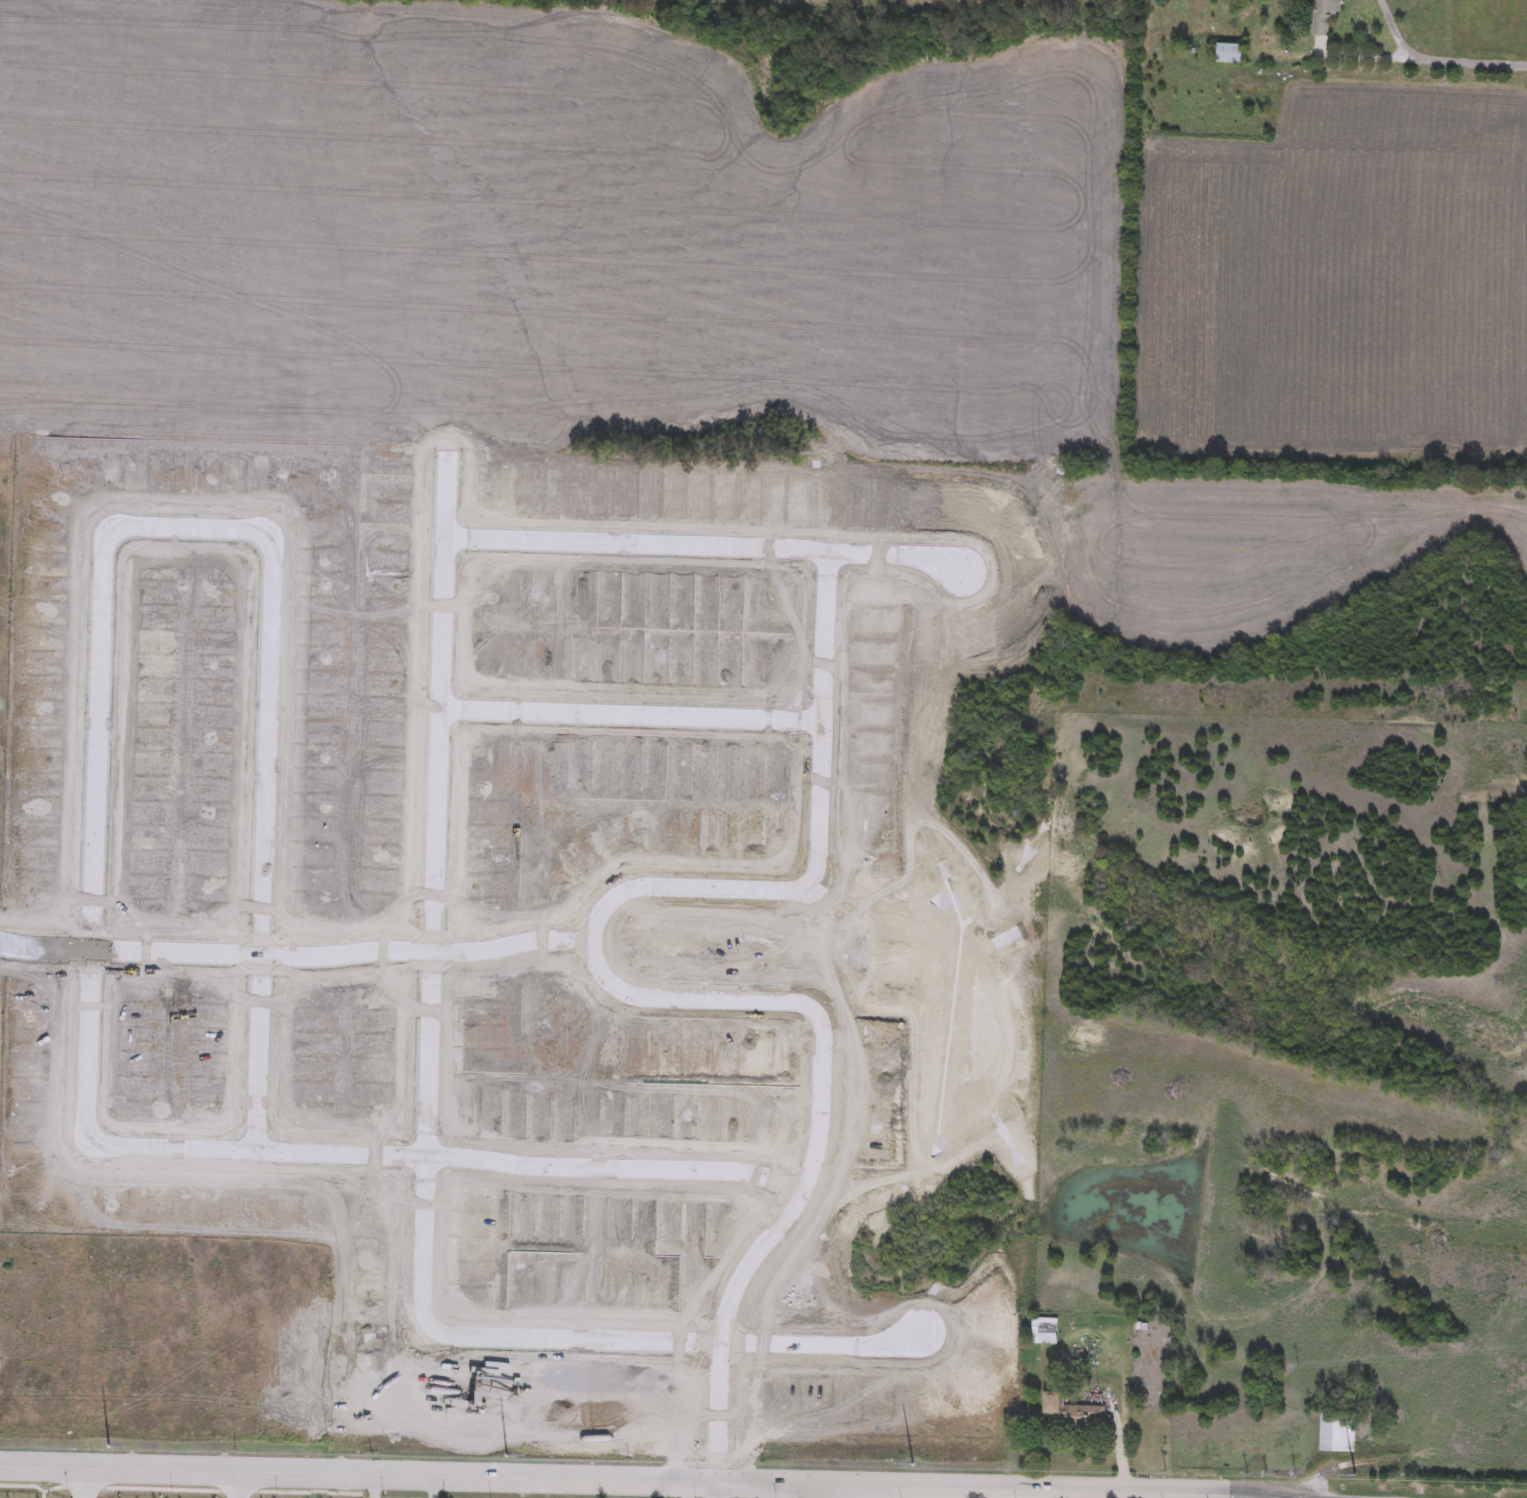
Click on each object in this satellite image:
building: (1324, 15)
road: (1395, 31)
building: (1228, 54)
road: (1395, 62)
road: (271, 554)
road: (891, 560)
road: (440, 648)
road: (629, 716)
road: (594, 945)
road: (43, 953)
road: (97, 1147)
road: (807, 1174)
road: (818, 1347)
building: (1072, 1415)
building: (1336, 1435)
road: (628, 1480)
road: (84, 1483)
road: (237, 1485)
road: (374, 1486)
road: (715, 1490)
road: (1168, 1496)

